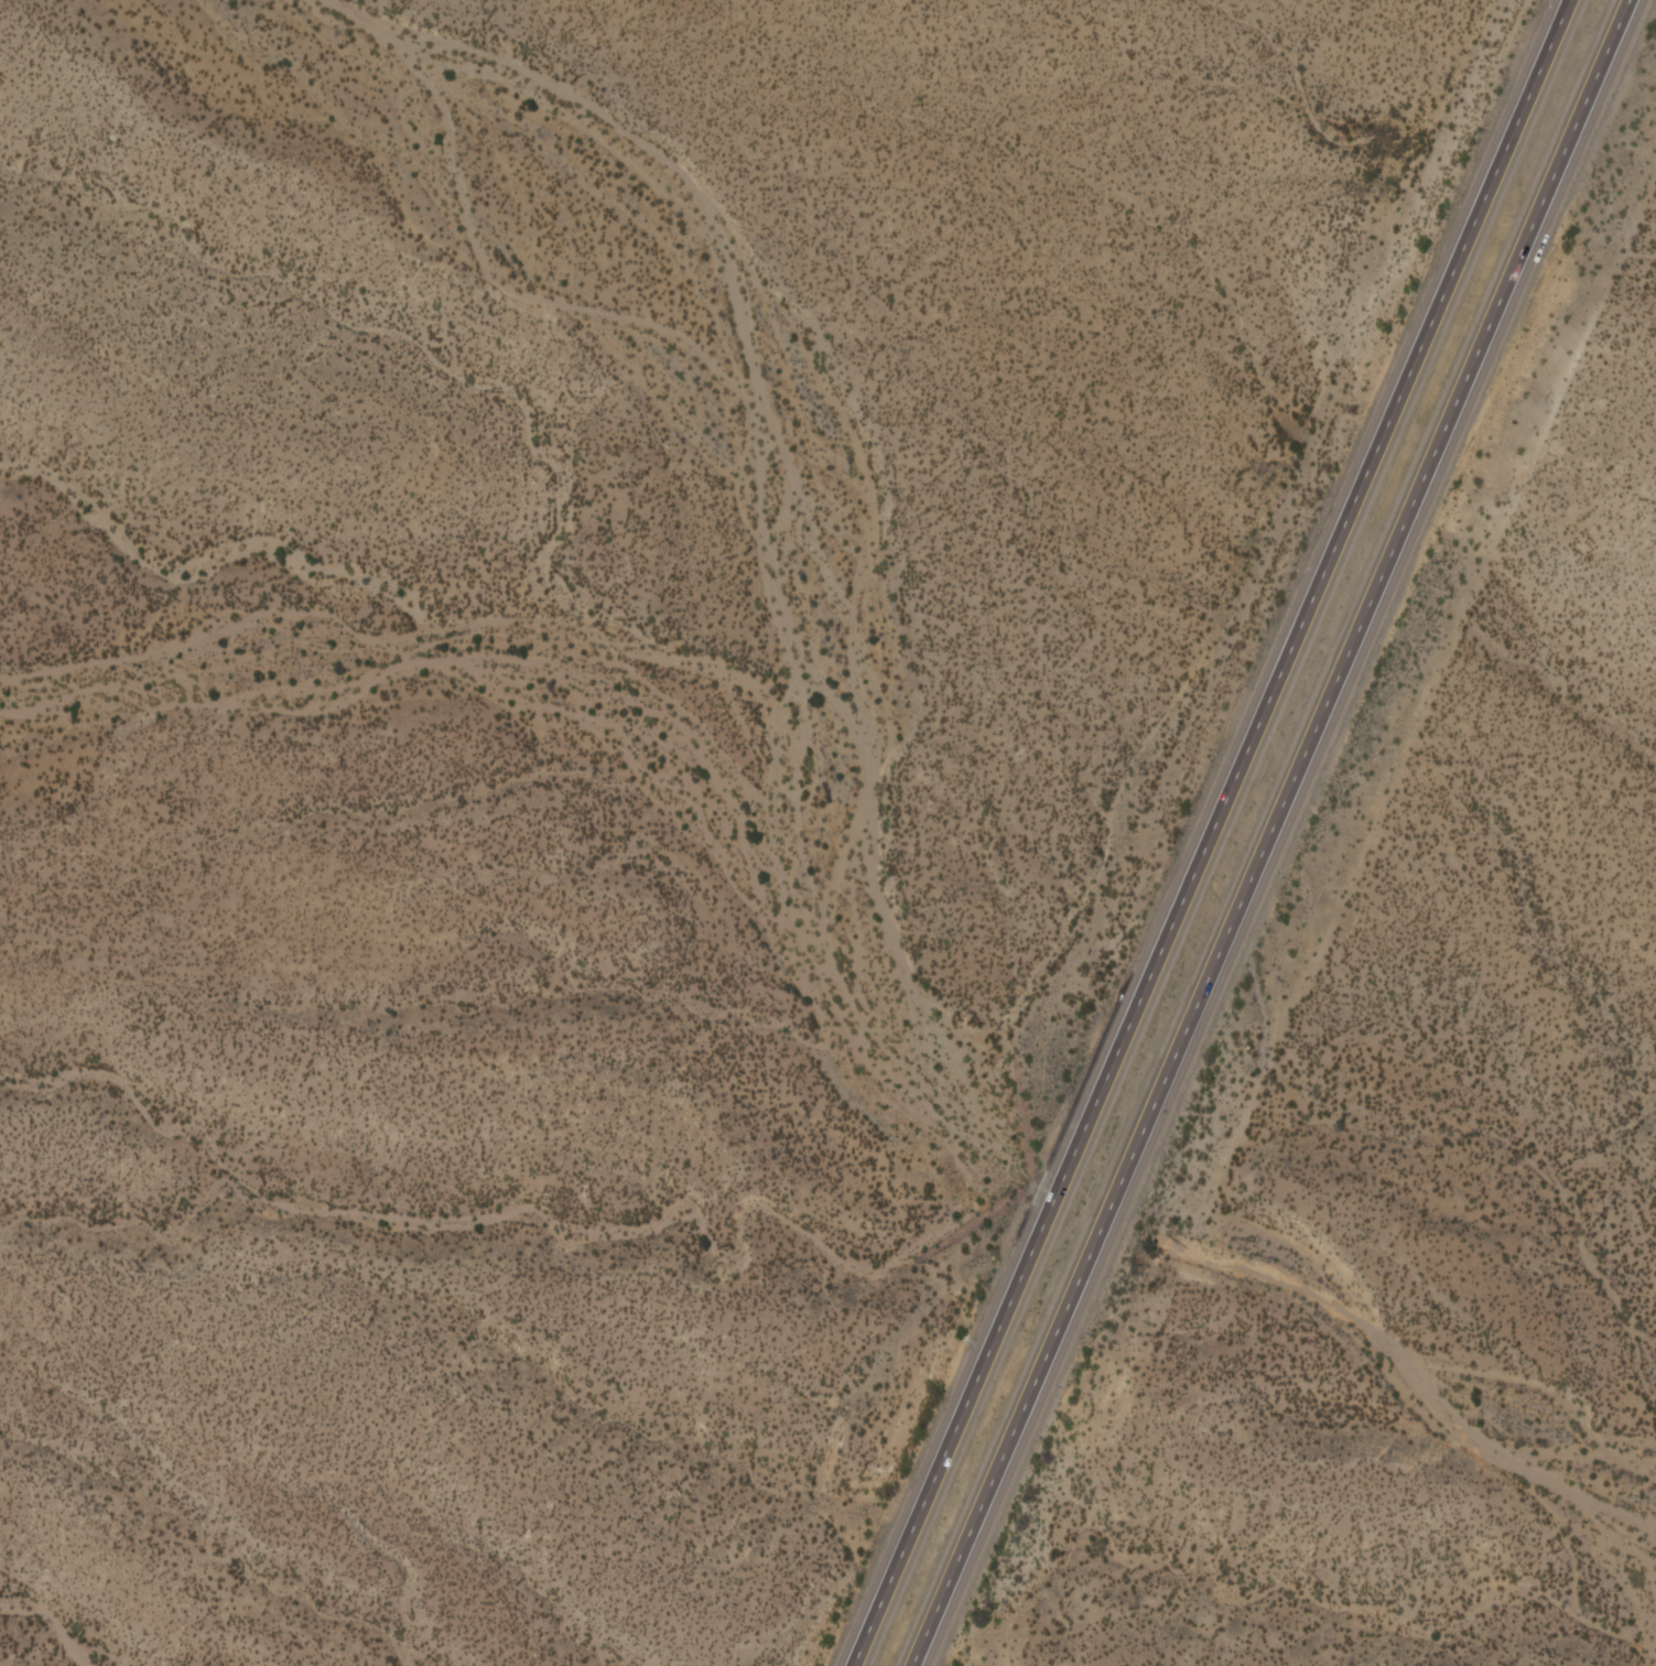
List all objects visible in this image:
road: (1210, 833)
road: (1269, 833)

